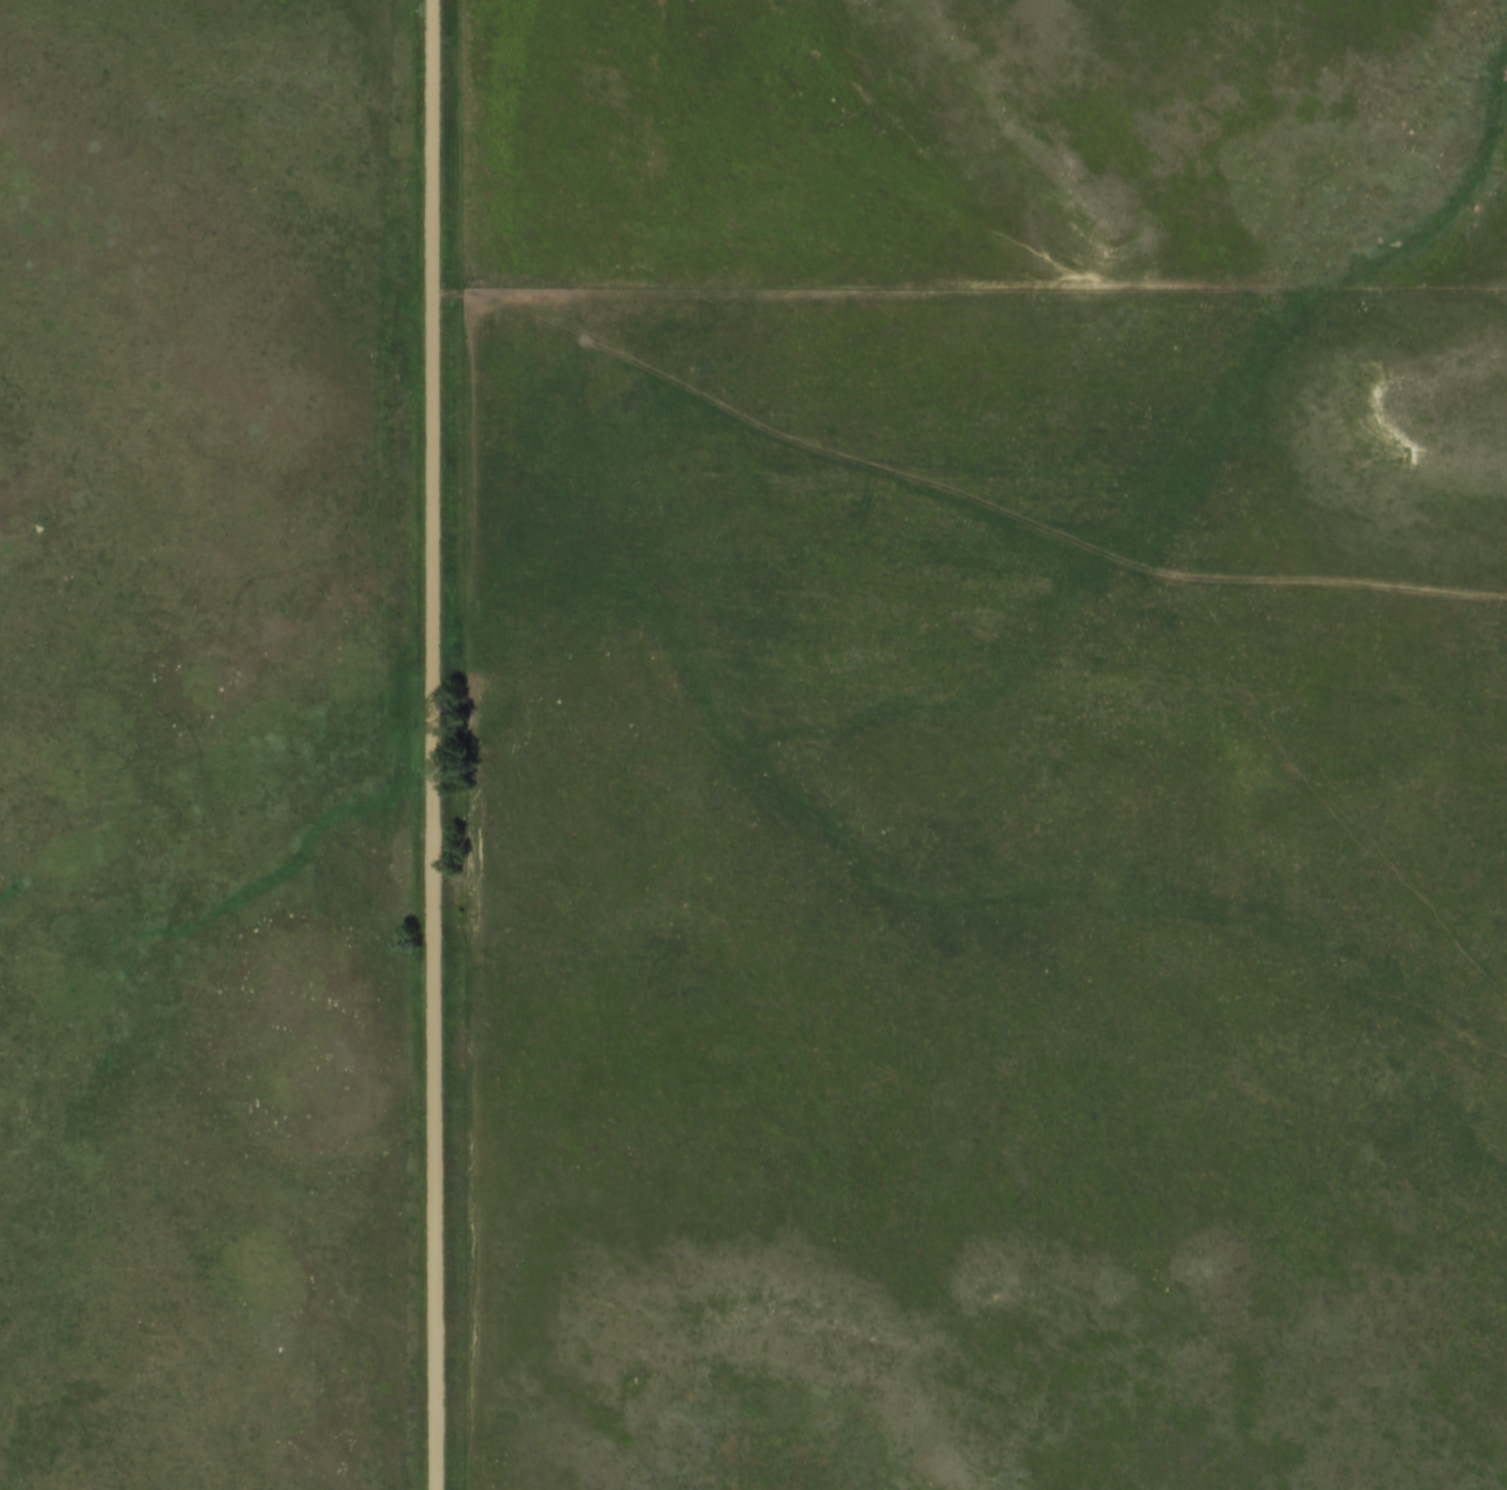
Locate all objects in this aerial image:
road: (433, 745)

